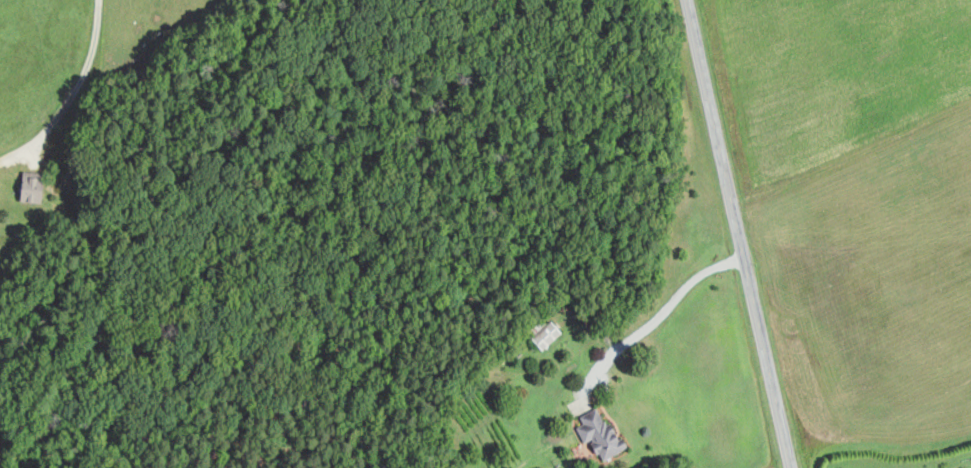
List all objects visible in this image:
road: (81, 79)
building: (36, 186)
road: (738, 234)
road: (660, 312)
building: (602, 433)

